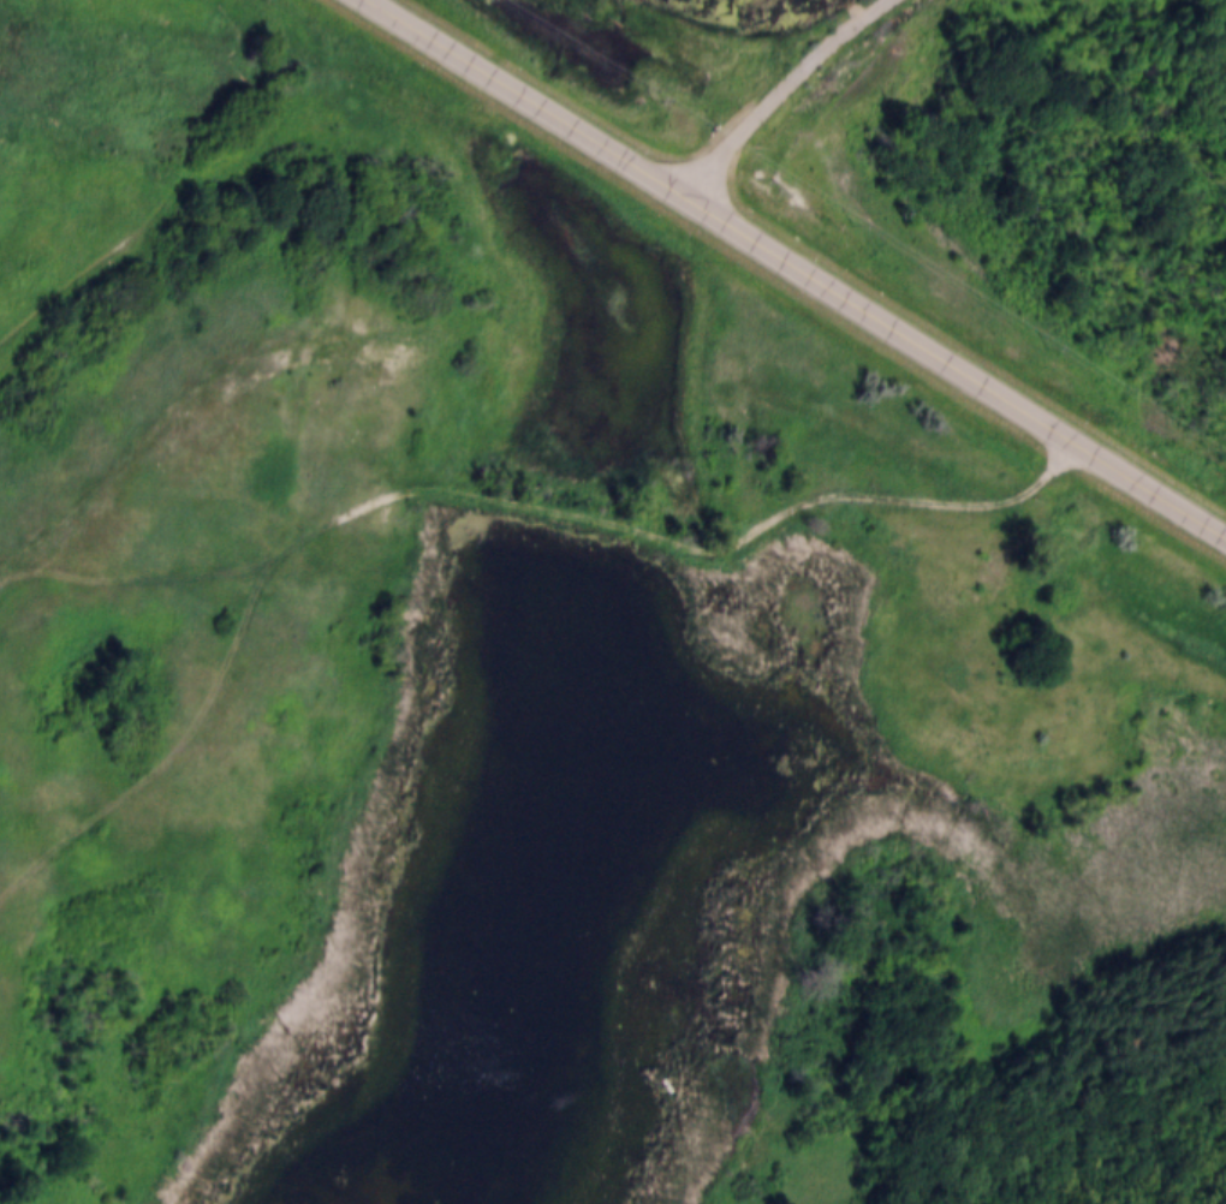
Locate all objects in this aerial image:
road: (778, 89)
road: (799, 261)
road: (469, 490)

